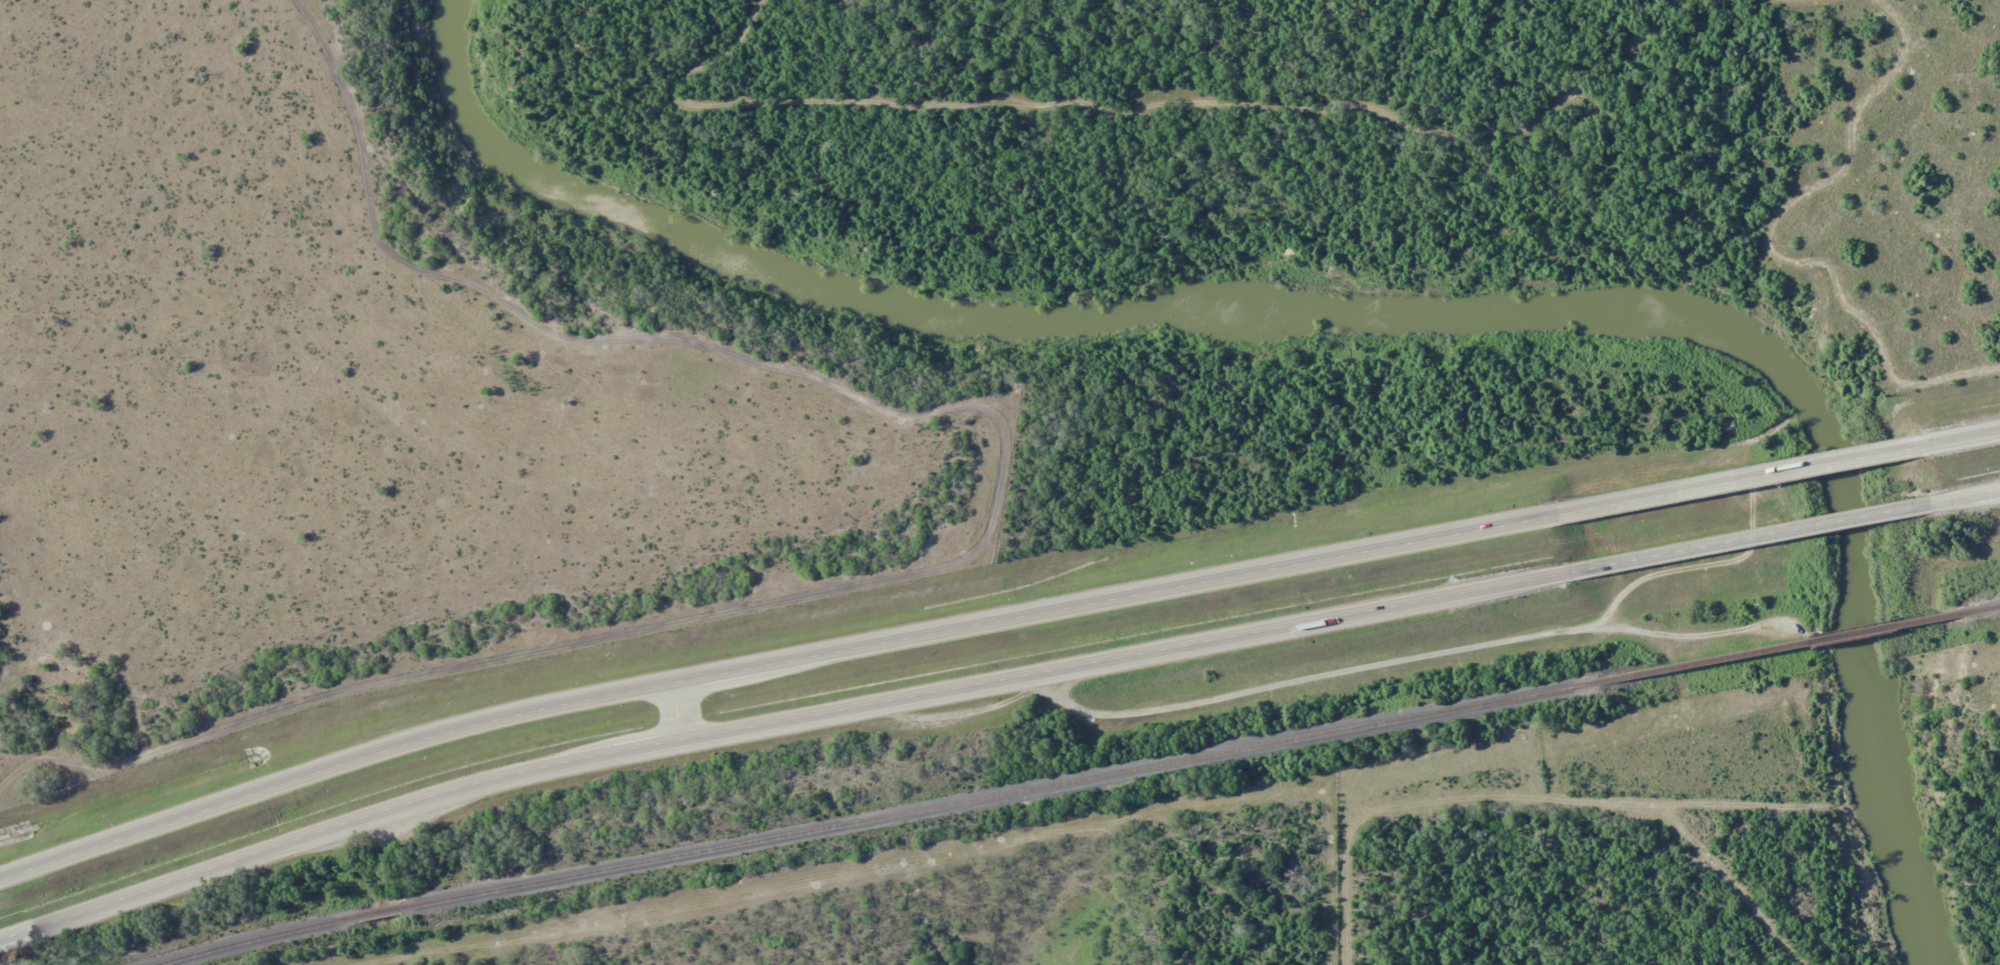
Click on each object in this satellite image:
river: (1357, 308)
road: (1958, 437)
road: (1737, 480)
road: (1965, 495)
road: (1749, 536)
railway: (1988, 607)
railway: (1785, 645)
road: (771, 672)
road: (681, 719)
road: (775, 729)
railway: (999, 793)
railway: (382, 910)
railway: (255, 936)

